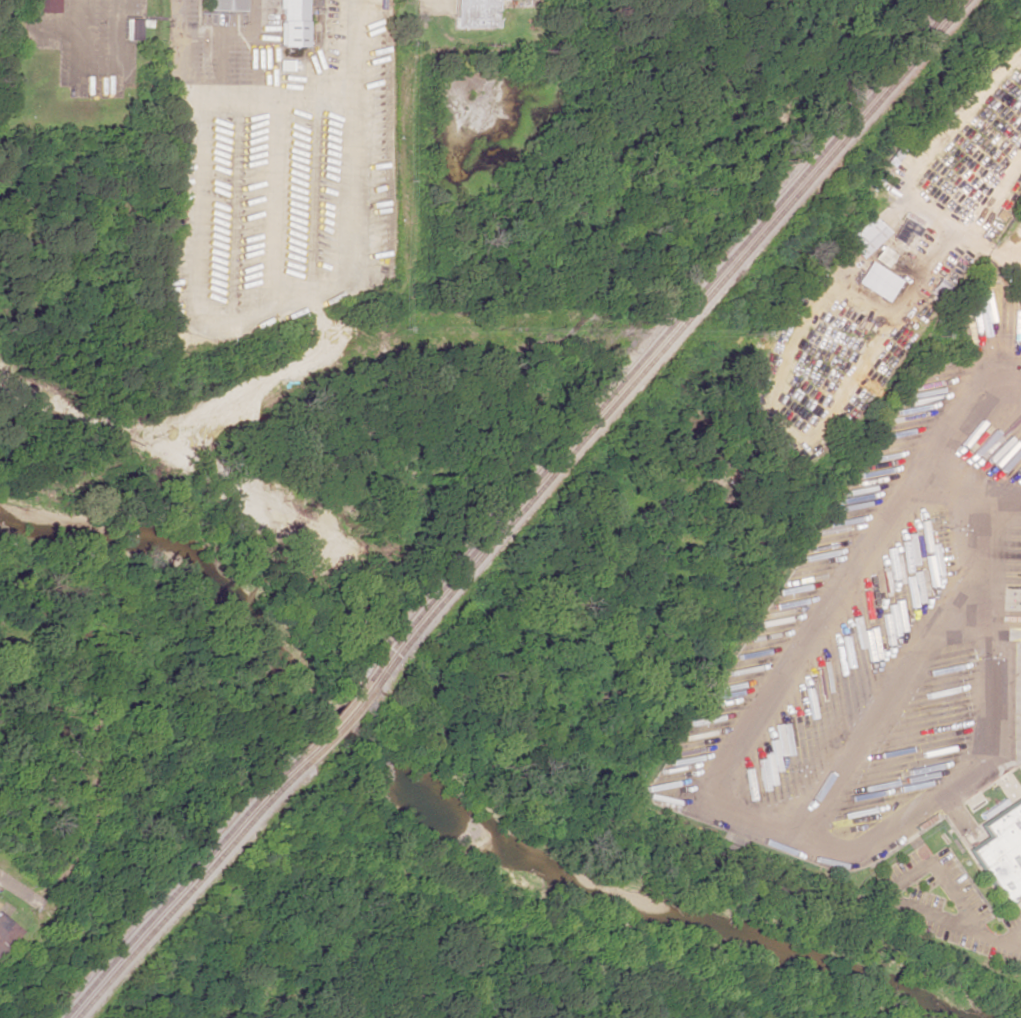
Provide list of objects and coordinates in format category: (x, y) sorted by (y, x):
building: (225, 5)
building: (41, 6)
building: (475, 13)
building: (291, 23)
building: (132, 29)
building: (903, 232)
building: (866, 237)
building: (881, 256)
building: (876, 281)
railway: (656, 340)
railway: (667, 343)
railway: (325, 718)
railway: (334, 726)
road: (748, 811)
river: (443, 818)
building: (998, 853)
road: (6, 873)
railway: (177, 887)
railway: (187, 890)
building: (6, 935)

